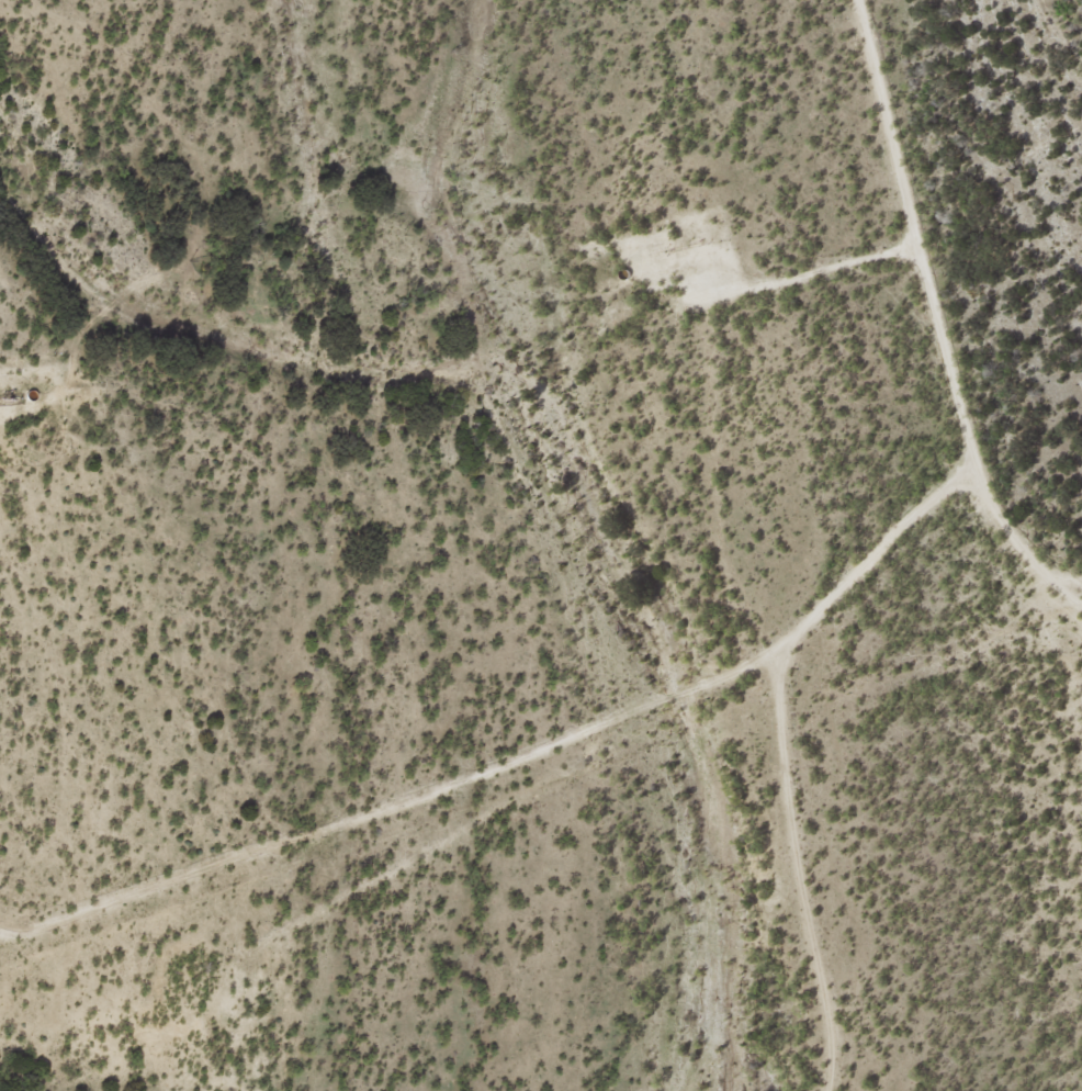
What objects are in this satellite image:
road: (996, 500)
river: (598, 542)
road: (842, 615)

